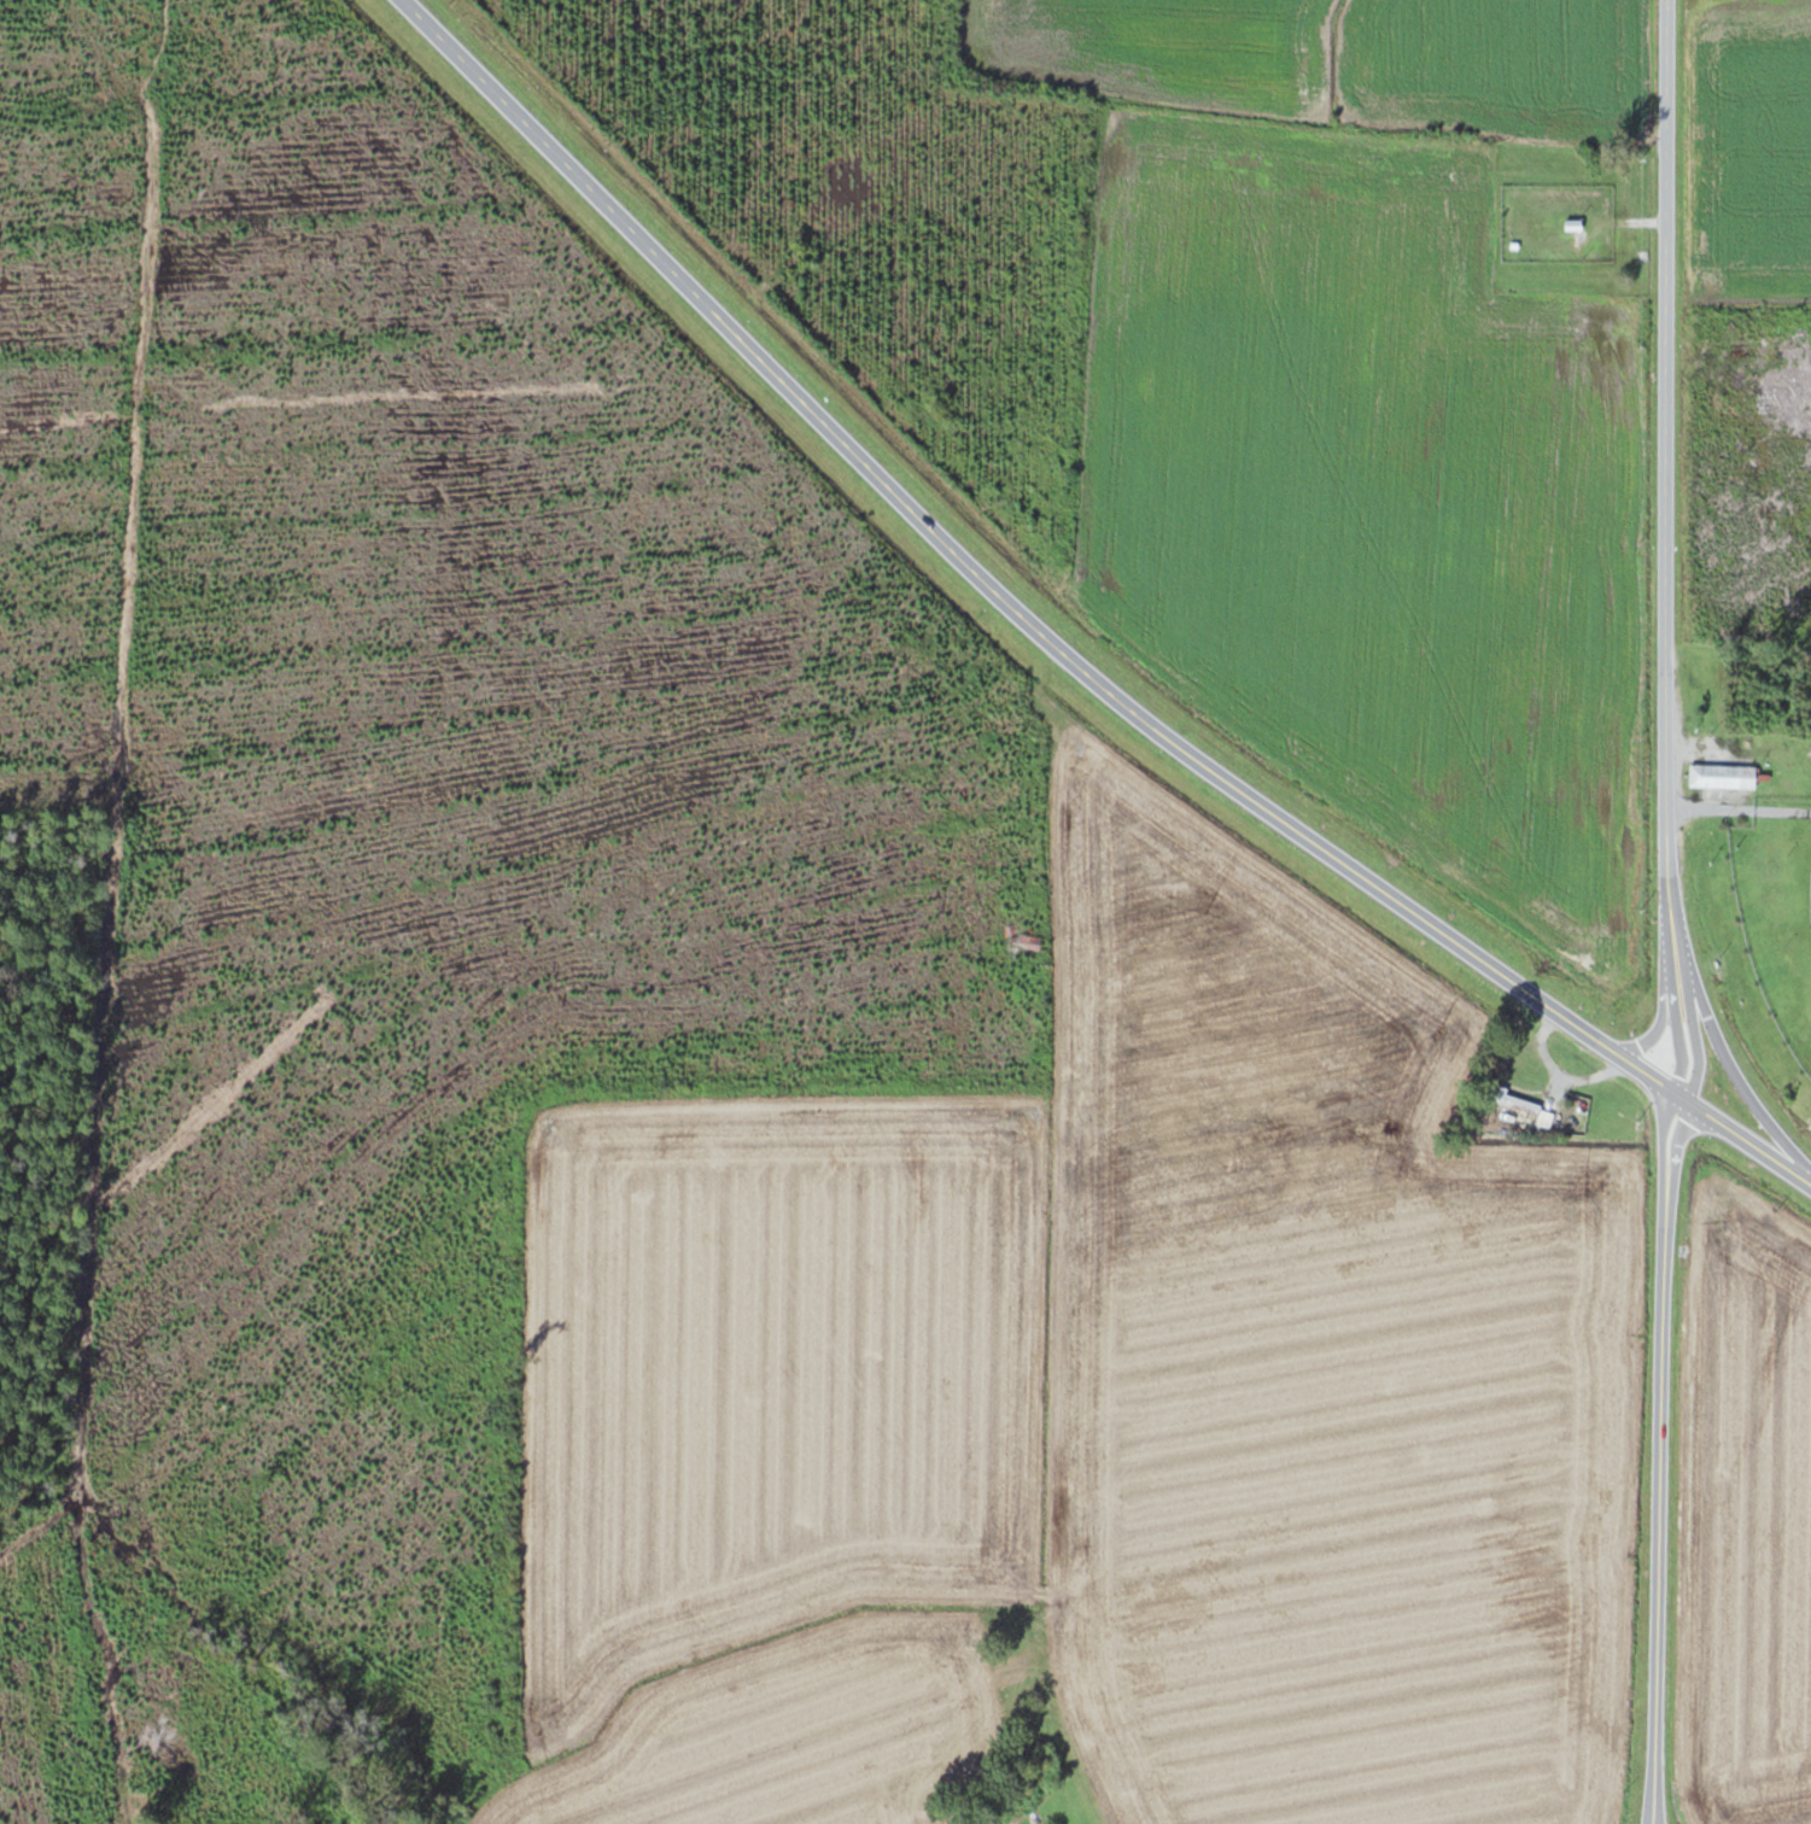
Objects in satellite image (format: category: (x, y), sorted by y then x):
road: (1665, 456)
road: (971, 567)
building: (1727, 776)
road: (1669, 937)
road: (1671, 1027)
road: (1689, 1031)
road: (1646, 1034)
road: (1721, 1054)
road: (1640, 1070)
road: (1677, 1094)
building: (1529, 1111)
road: (1658, 1139)
road: (1748, 1142)
road: (1671, 1145)
road: (1660, 1507)

